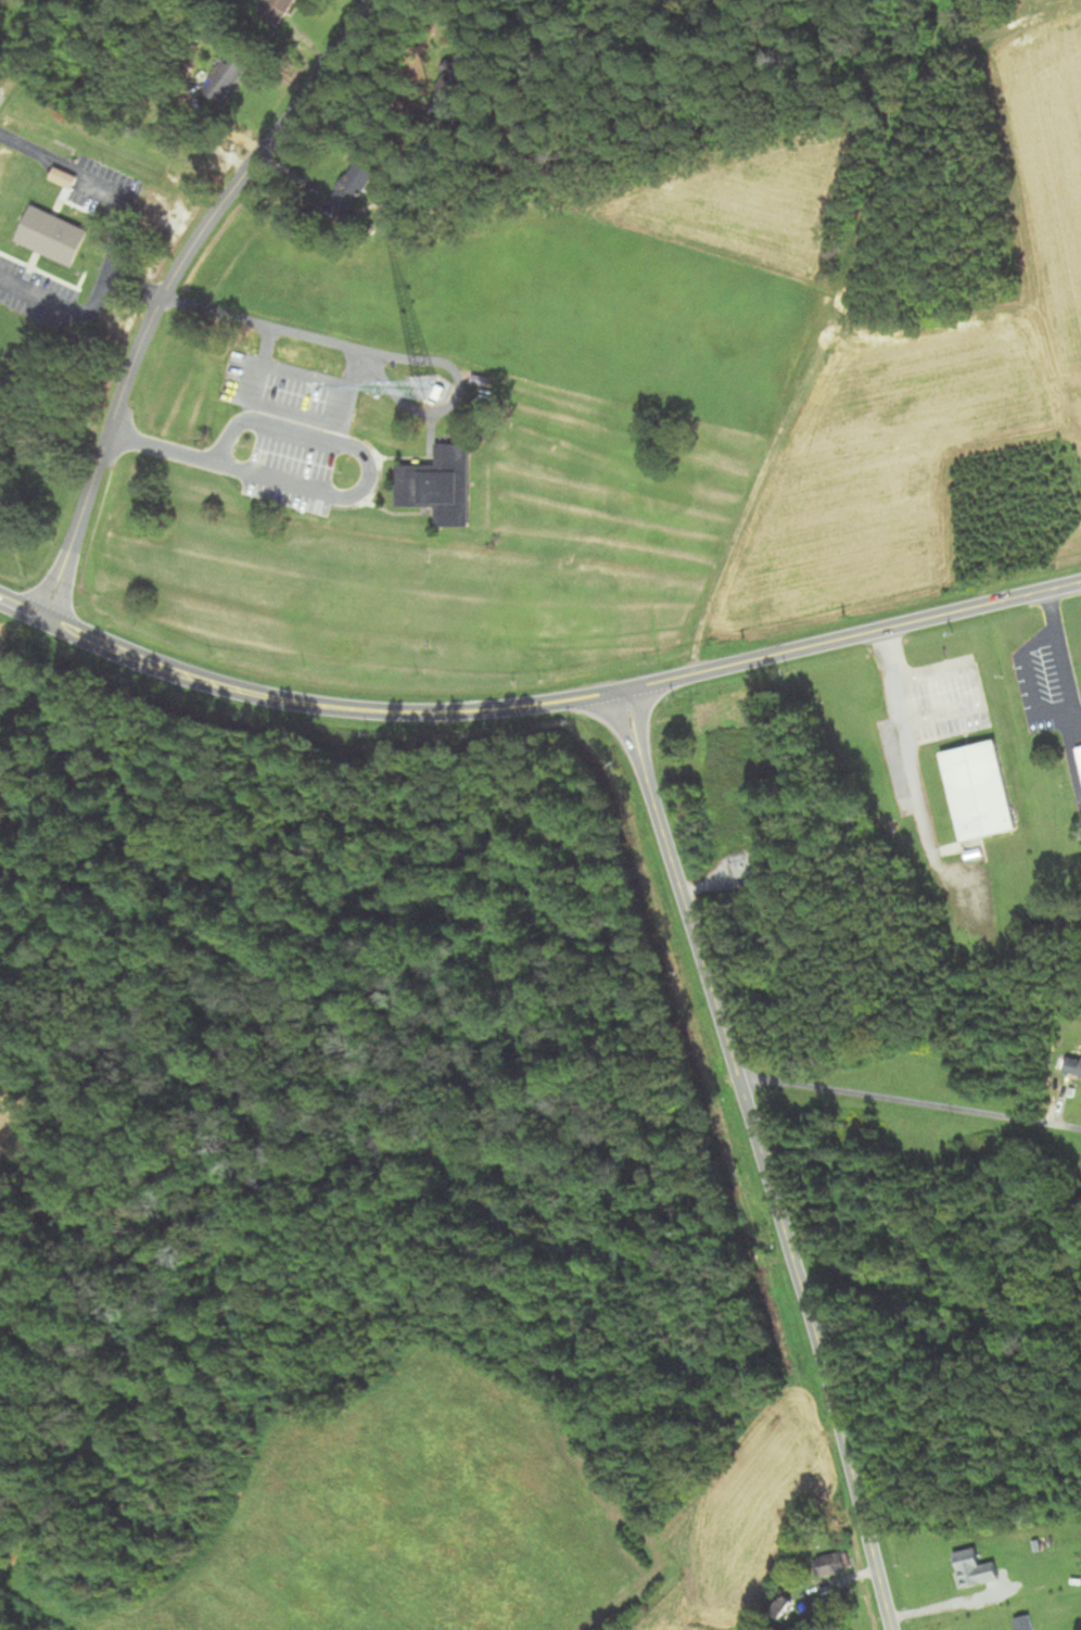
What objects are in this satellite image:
building: (277, 11)
building: (225, 78)
building: (64, 177)
building: (352, 189)
building: (52, 236)
road: (109, 244)
road: (170, 290)
road: (272, 326)
road: (825, 338)
road: (219, 468)
building: (440, 484)
road: (1060, 656)
road: (537, 705)
road: (902, 742)
building: (1080, 750)
building: (979, 791)
road: (895, 931)
building: (1073, 1065)
road: (911, 1089)
road: (762, 1158)
building: (835, 1564)
building: (975, 1568)
road: (953, 1604)
building: (1025, 1622)

